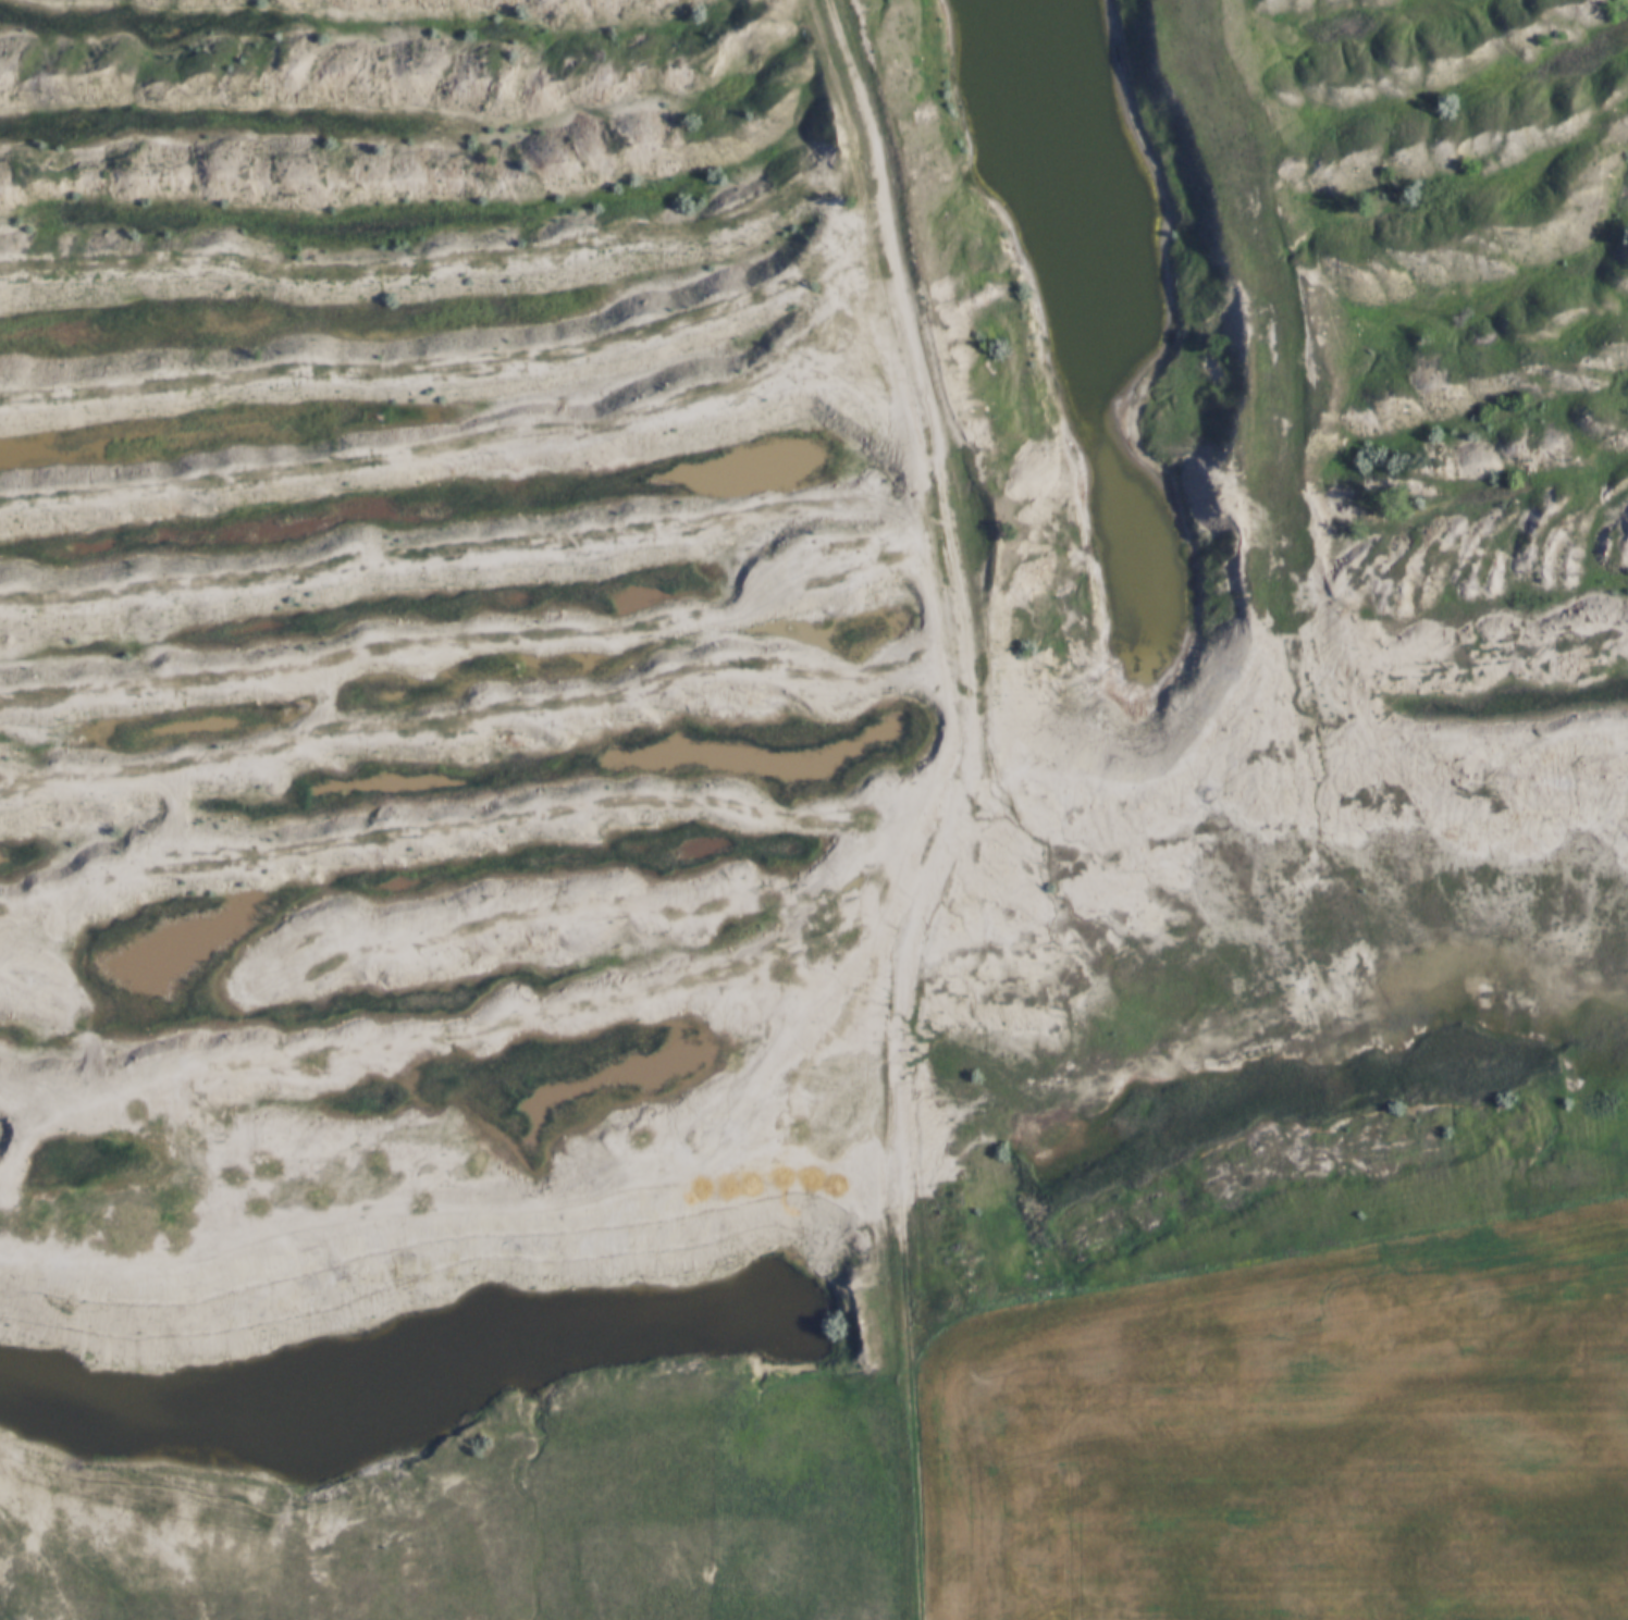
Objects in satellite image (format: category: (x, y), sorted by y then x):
quarry: (747, 661)
road: (962, 806)

